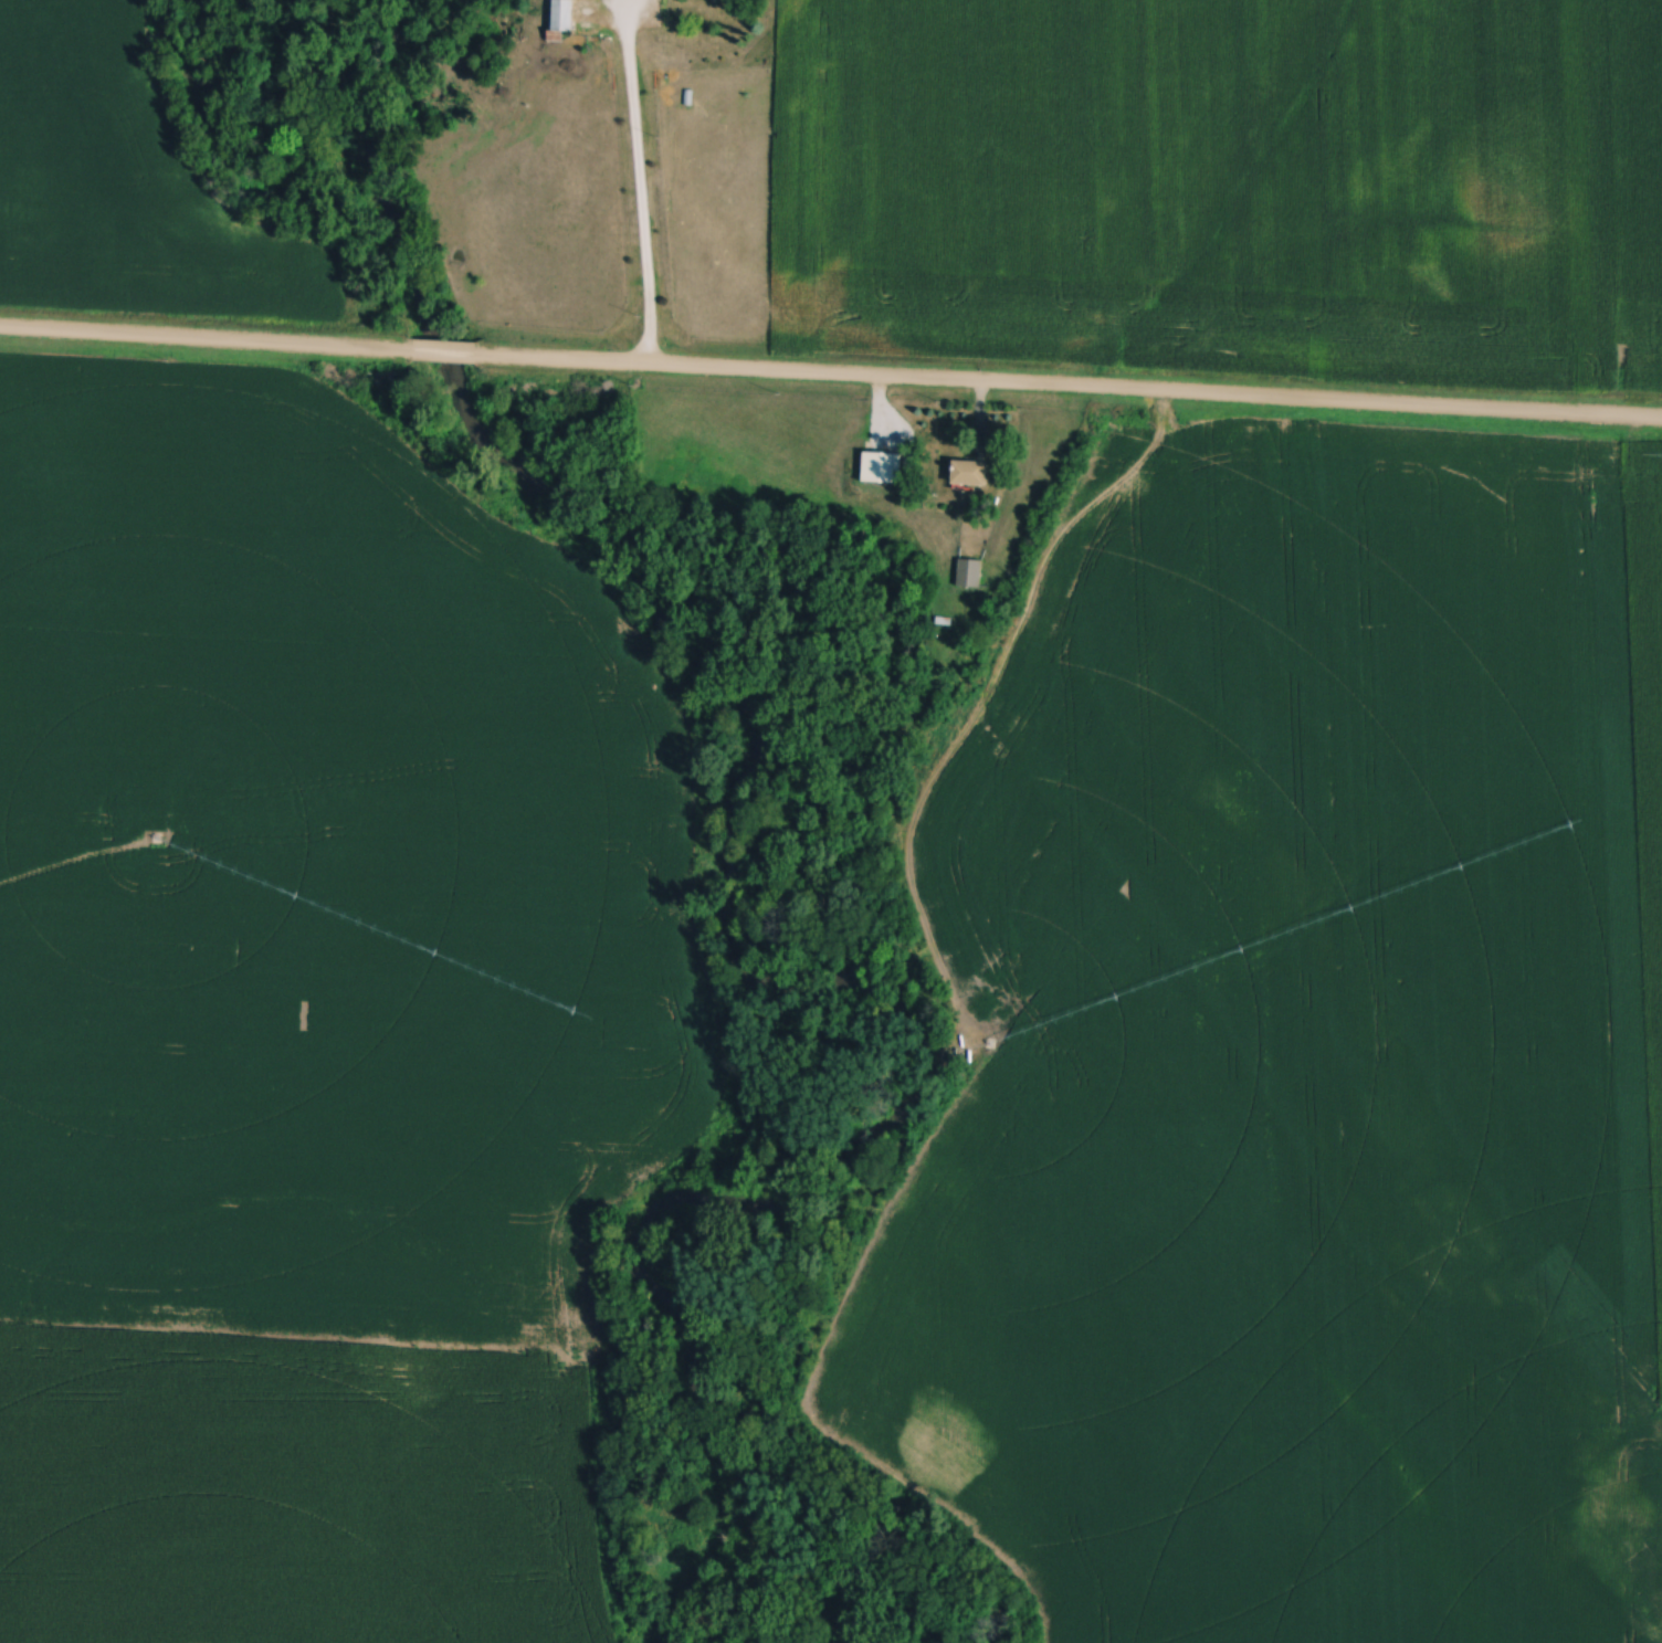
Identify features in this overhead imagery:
building: (562, 19)
road: (639, 185)
road: (207, 336)
road: (448, 350)
road: (1071, 387)
building: (883, 470)
building: (971, 474)
building: (970, 575)
river: (730, 942)

